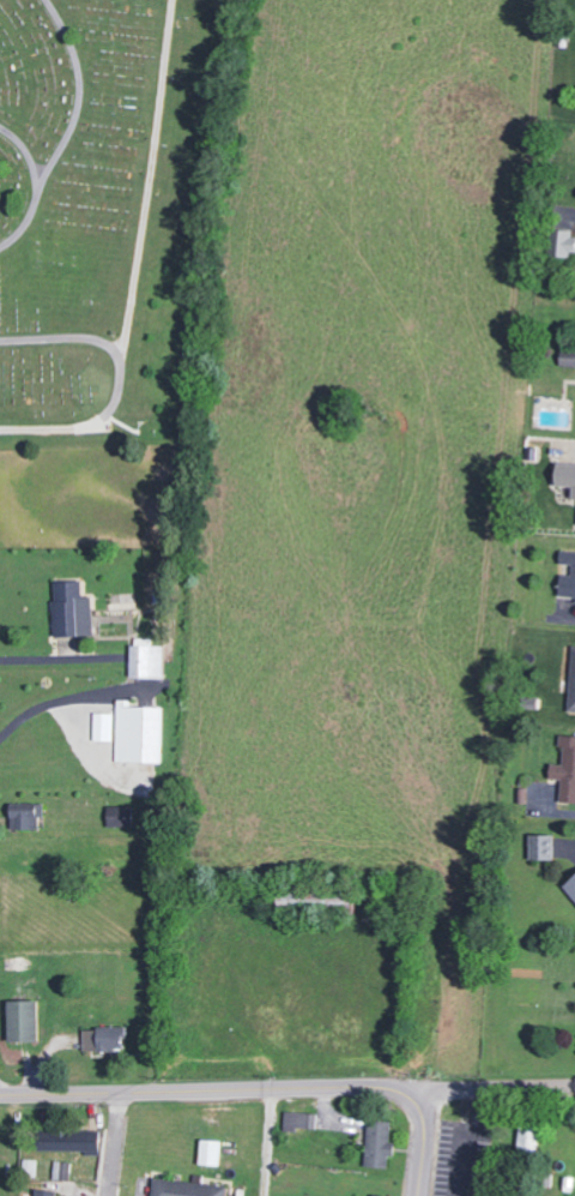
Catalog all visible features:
road: (67, 133)
park: (102, 194)
road: (26, 223)
building: (562, 240)
road: (135, 265)
road: (63, 337)
building: (567, 474)
building: (568, 573)
building: (73, 608)
building: (147, 659)
building: (573, 683)
building: (105, 726)
building: (140, 732)
building: (567, 769)
building: (26, 815)
building: (122, 816)
building: (543, 846)
building: (571, 887)
building: (323, 903)
building: (24, 1020)
building: (104, 1039)
road: (490, 1087)
road: (202, 1090)
building: (302, 1120)
building: (529, 1137)
building: (71, 1140)
road: (268, 1142)
road: (423, 1142)
building: (381, 1143)
road: (117, 1144)
building: (212, 1152)
building: (63, 1170)
building: (188, 1188)
building: (46, 1192)

